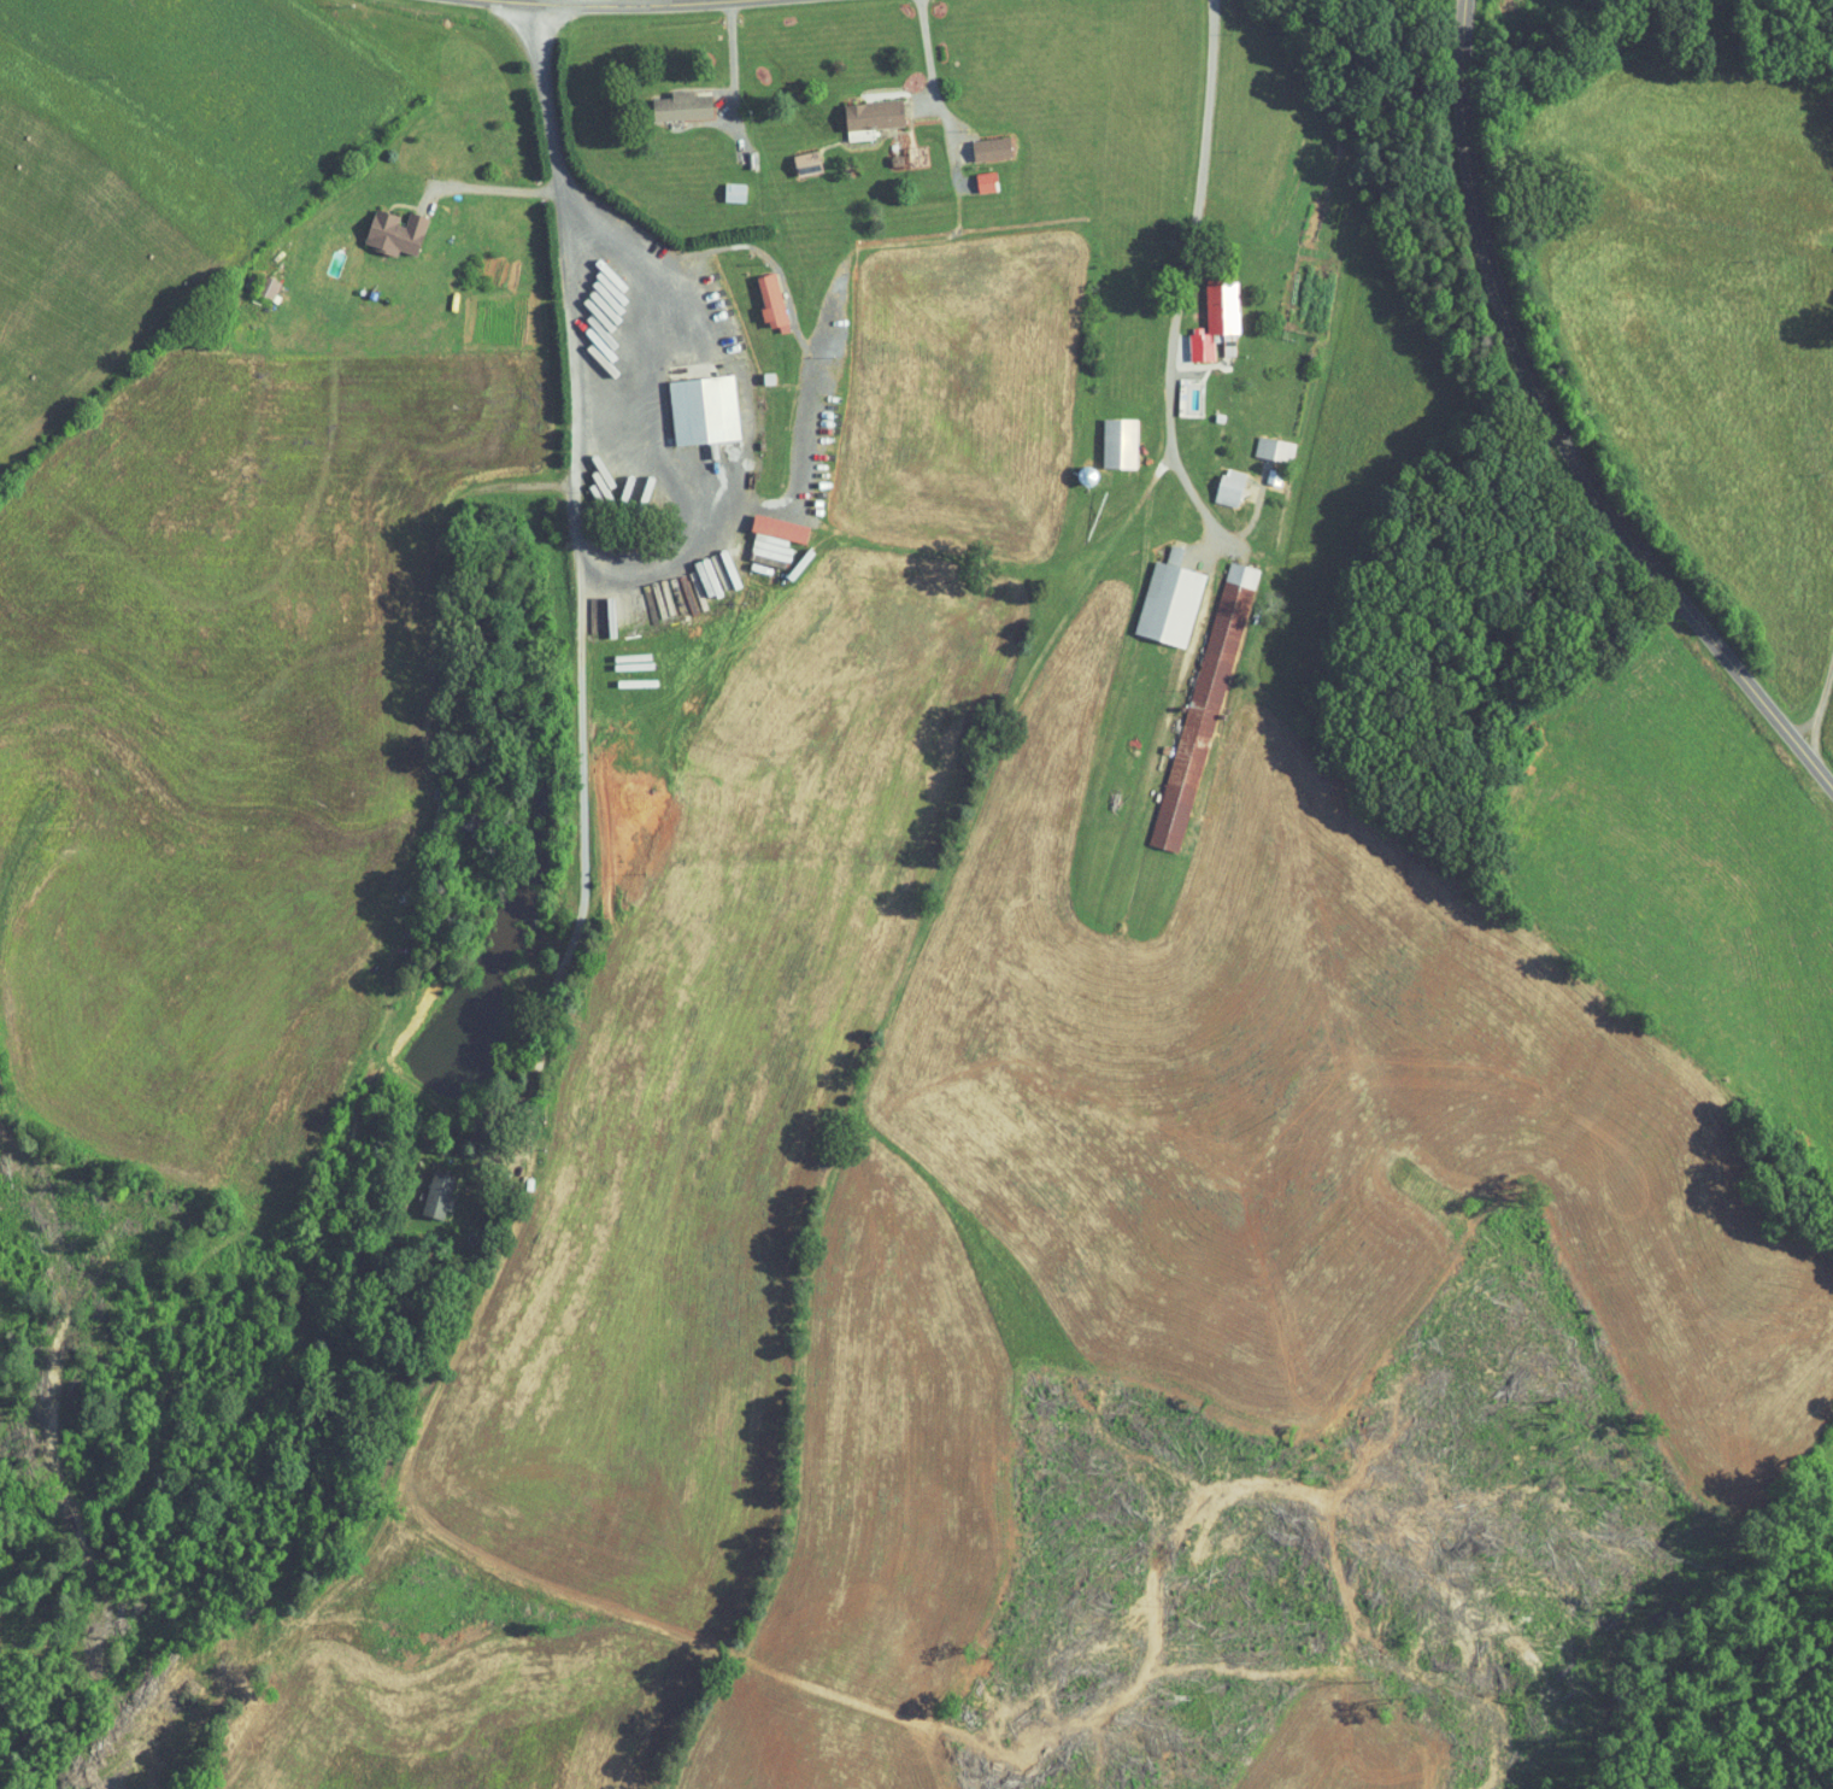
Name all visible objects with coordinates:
road: (618, 8)
road: (924, 52)
road: (730, 63)
building: (685, 106)
building: (877, 115)
building: (995, 149)
building: (989, 182)
road: (497, 188)
building: (736, 193)
building: (400, 233)
road: (1183, 278)
building: (269, 287)
building: (775, 303)
building: (1212, 322)
building: (707, 409)
road: (1556, 435)
building: (1115, 442)
building: (1271, 448)
building: (1270, 474)
building: (627, 477)
road: (736, 481)
building: (1224, 487)
building: (777, 539)
building: (1164, 602)
road: (1817, 698)
building: (1204, 703)
building: (441, 1195)

